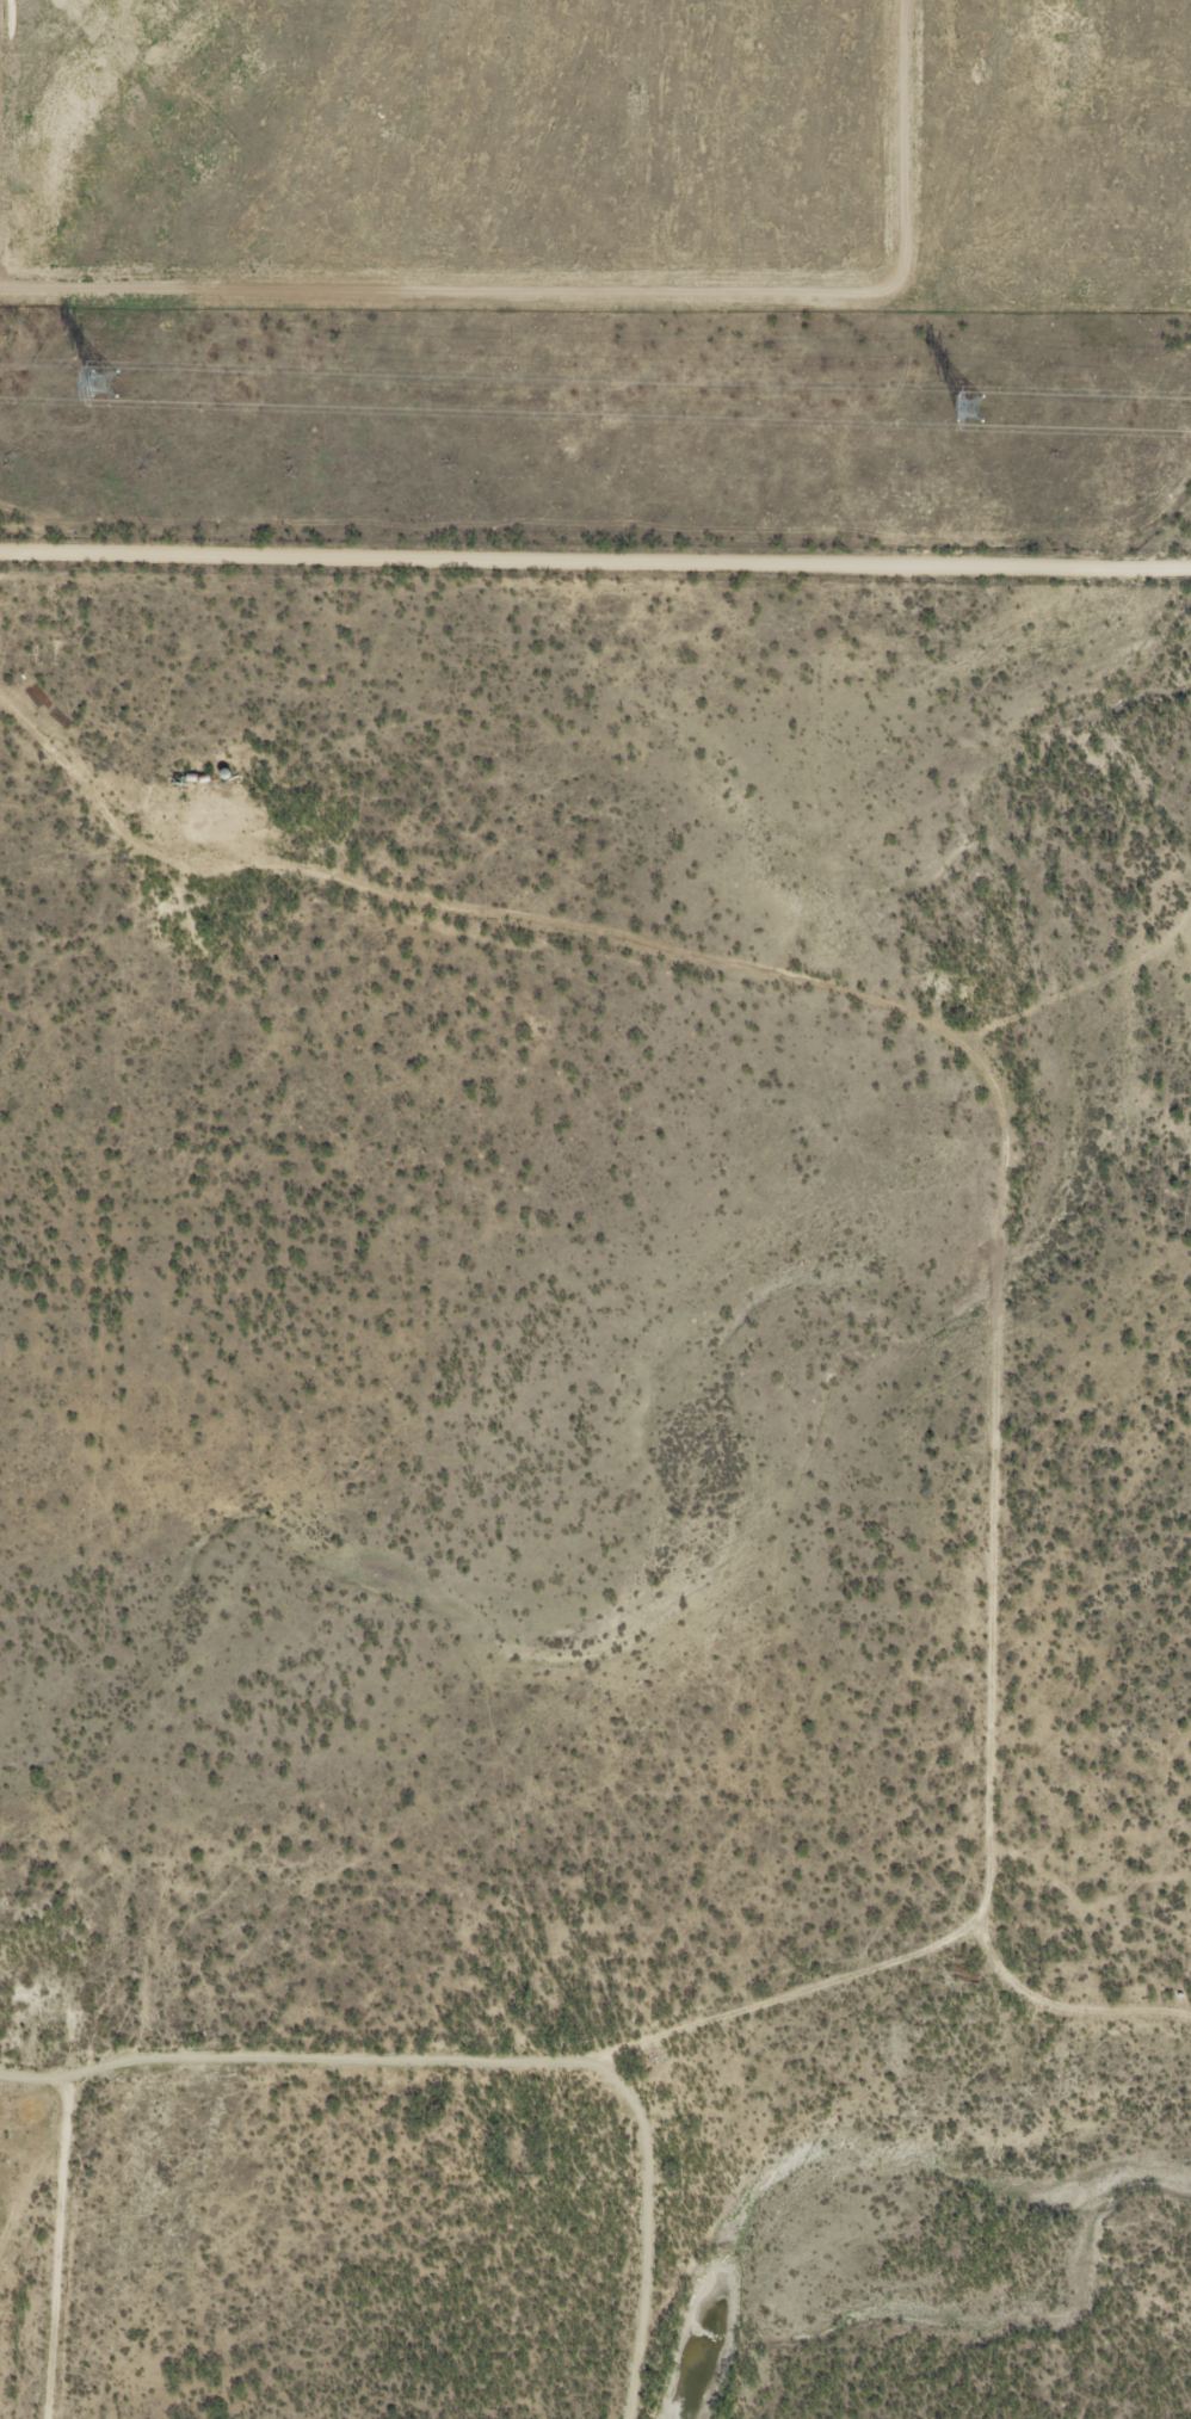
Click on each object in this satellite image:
power tower: (104, 384)
power tower: (965, 406)
road: (595, 553)
road: (236, 847)
road: (1082, 982)
road: (1001, 1156)
road: (1062, 2000)
road: (280, 2056)
road: (646, 2217)
road: (58, 2248)

